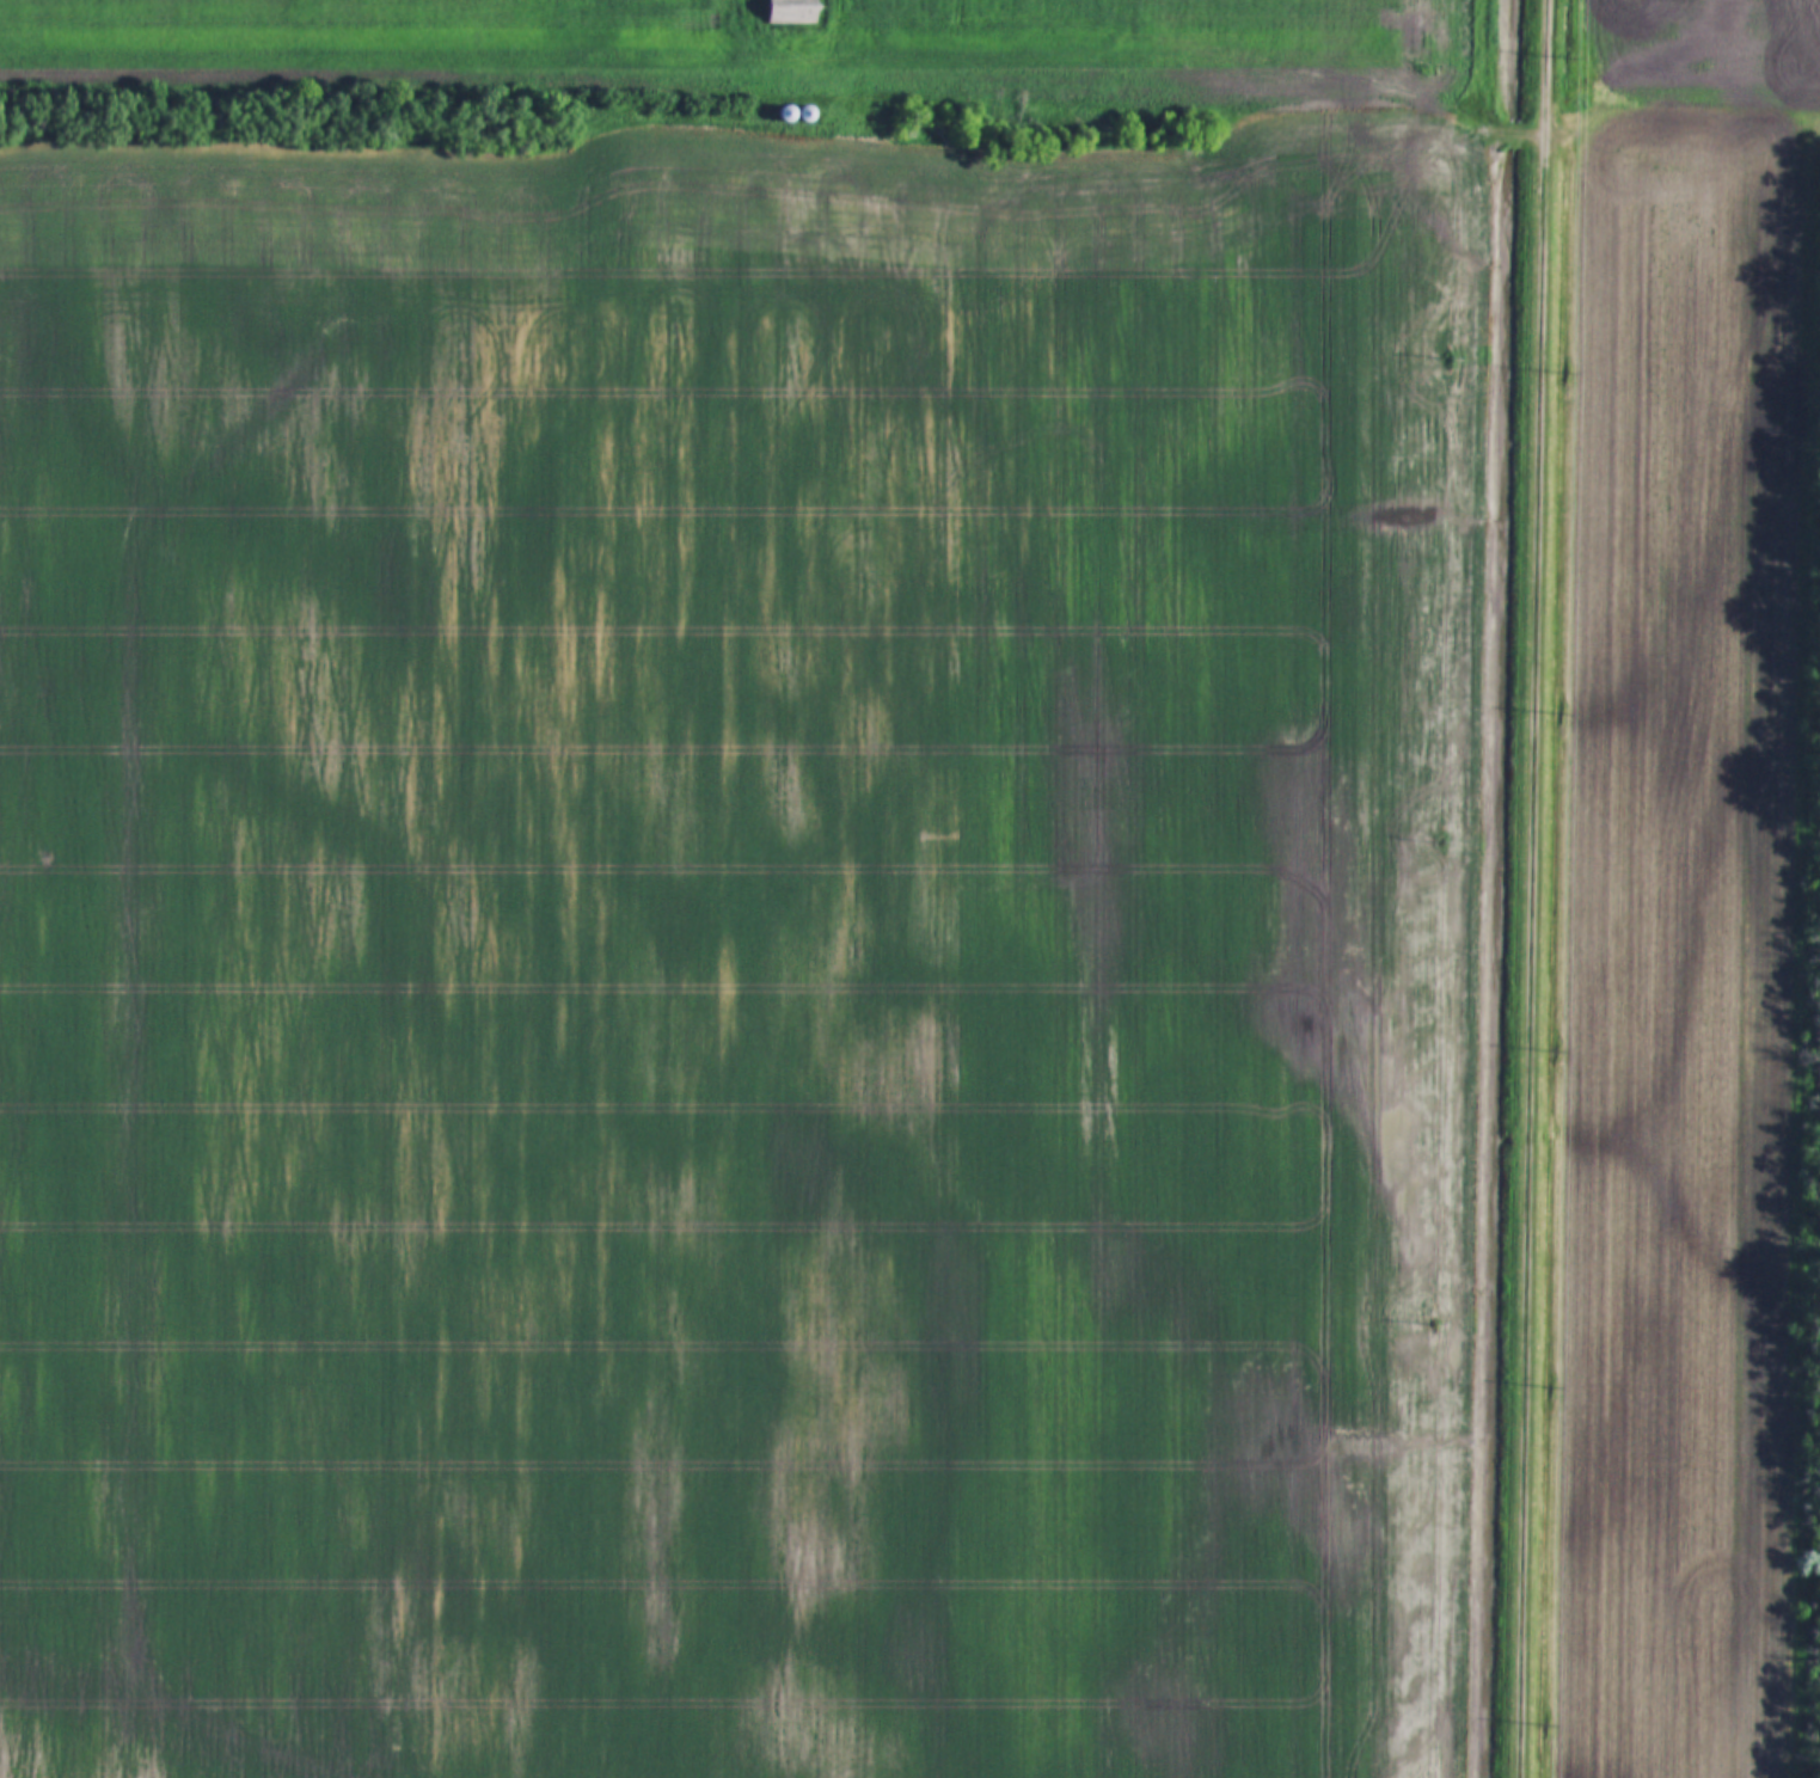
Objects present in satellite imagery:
road: (1531, 889)

